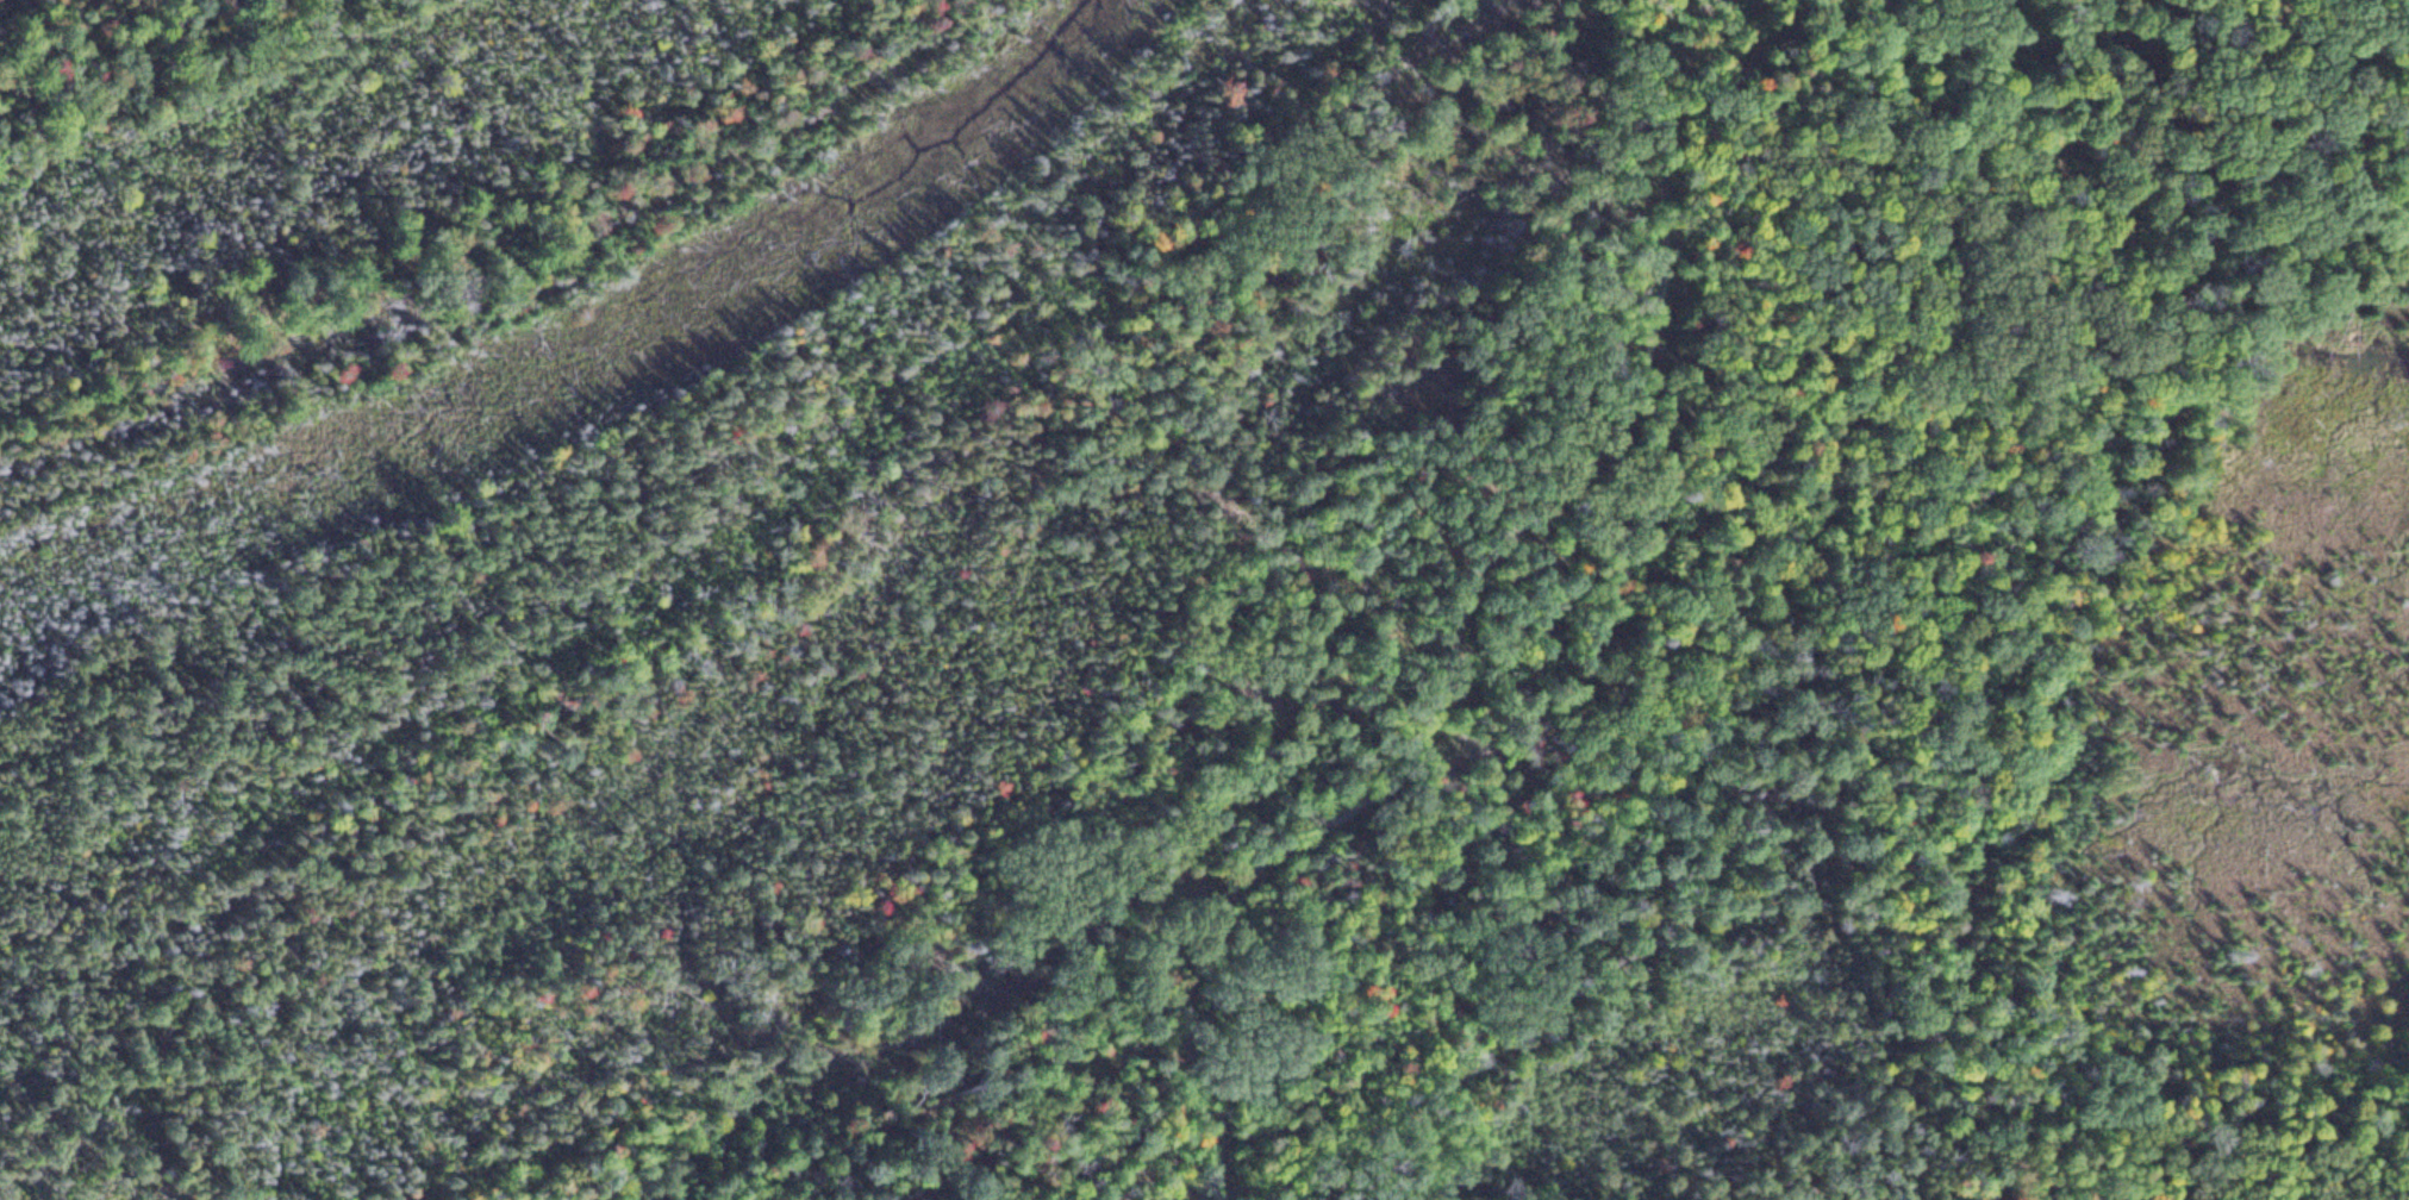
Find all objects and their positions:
road: (1206, 1148)

